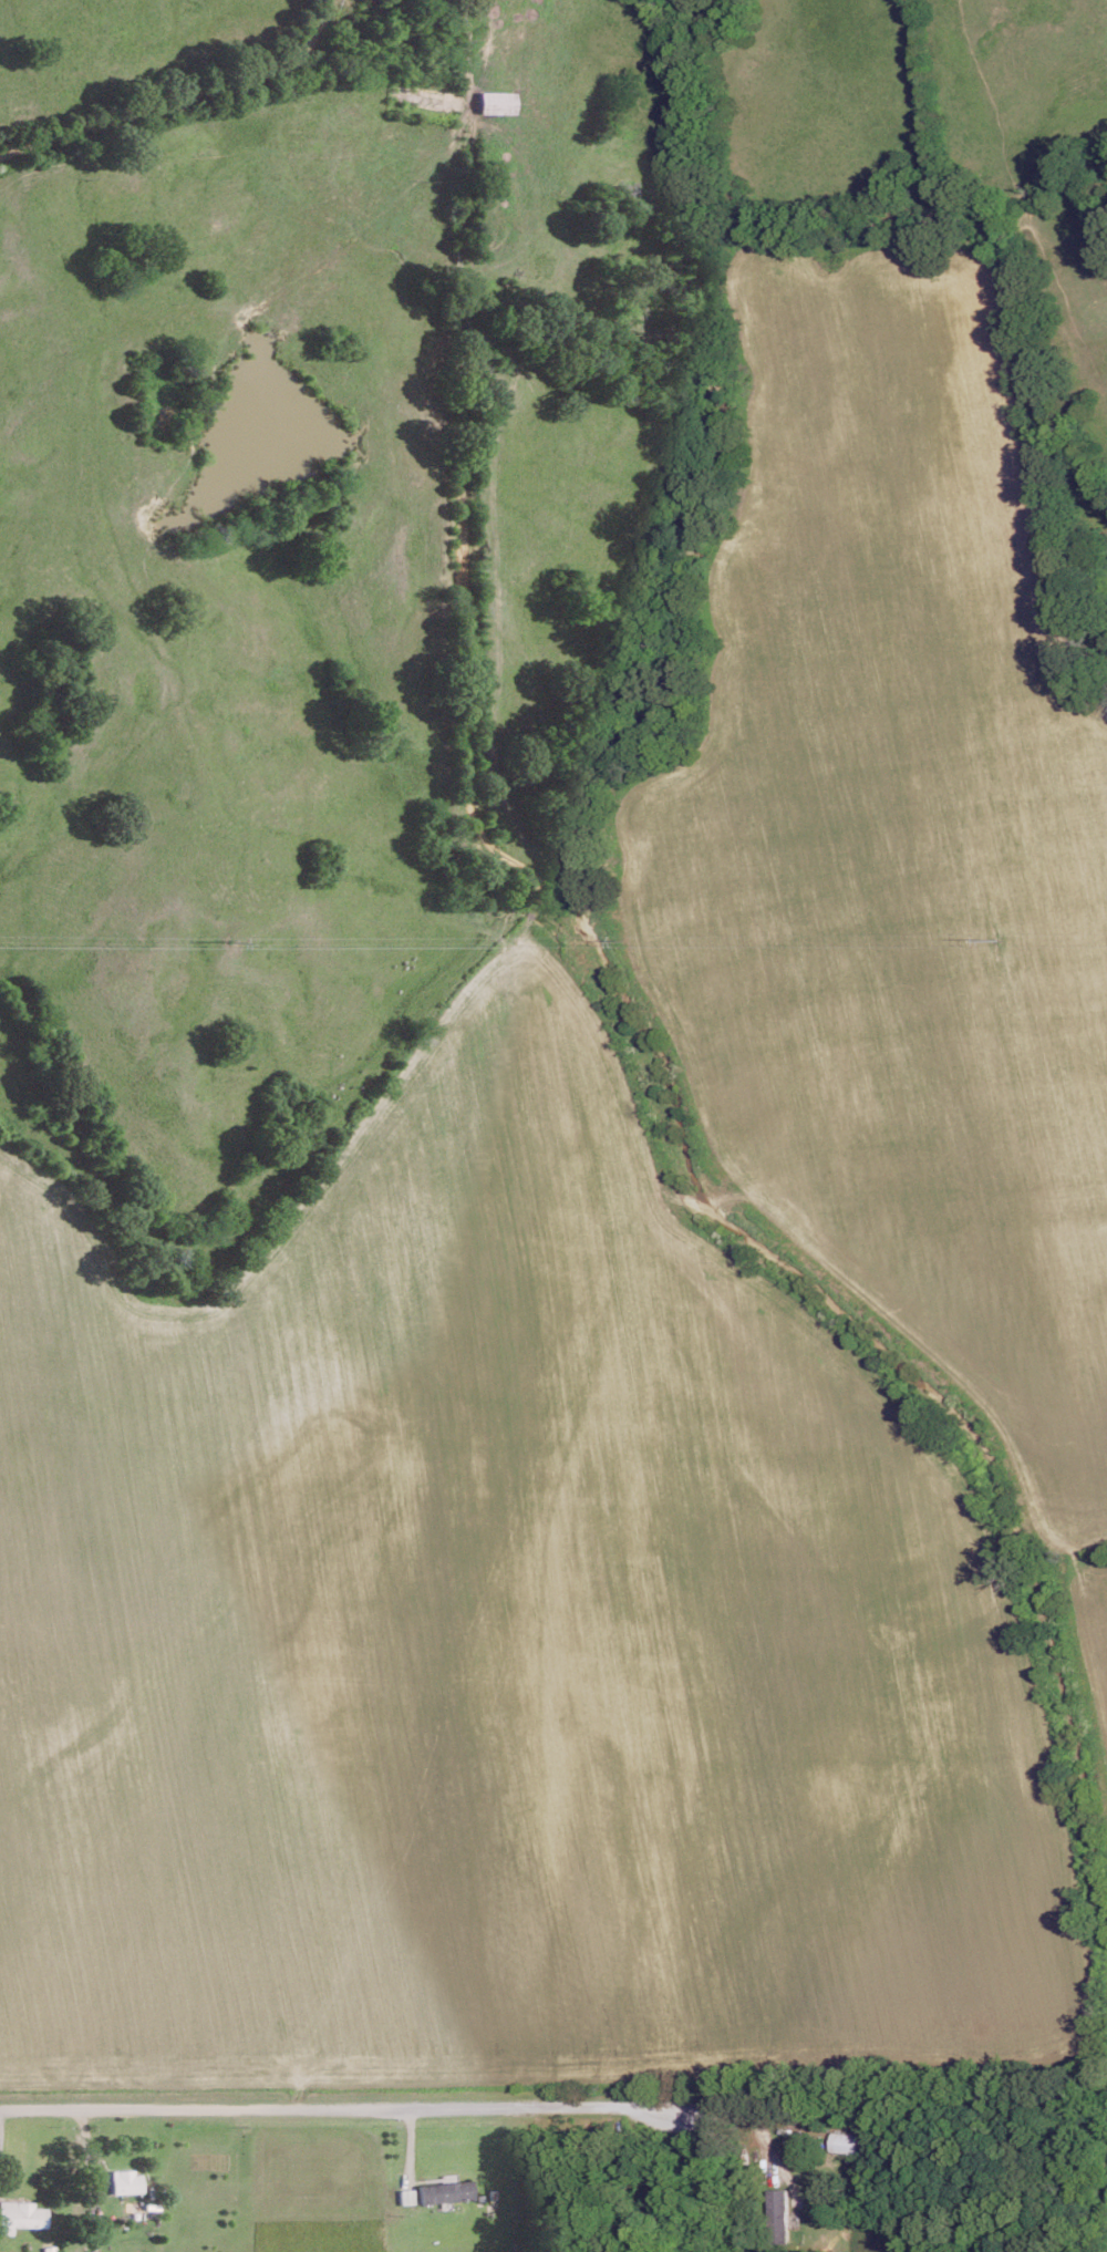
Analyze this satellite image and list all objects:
road: (179, 97)
building: (493, 101)
road: (354, 2105)
building: (847, 2141)
building: (125, 2180)
building: (444, 2190)
building: (20, 2214)
building: (779, 2214)

